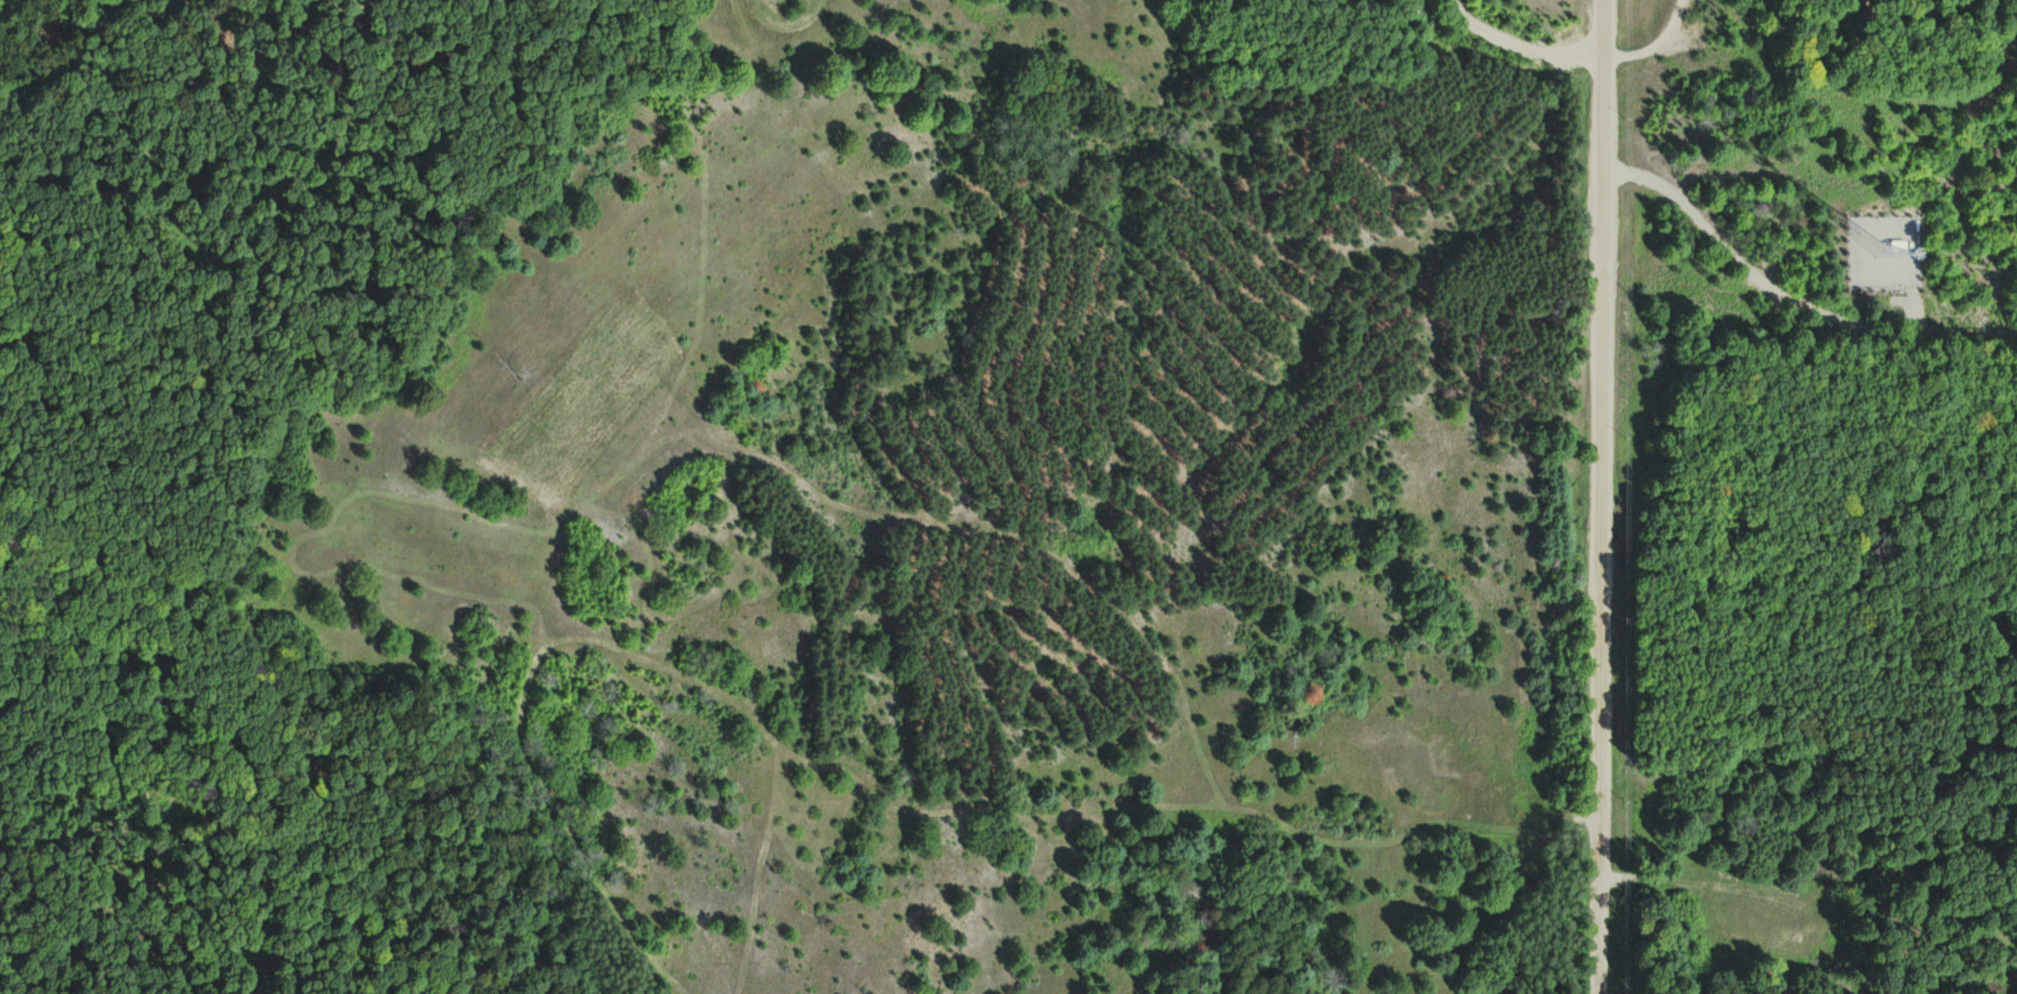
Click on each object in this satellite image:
road: (1602, 85)
building: (1878, 254)
road: (1602, 582)

